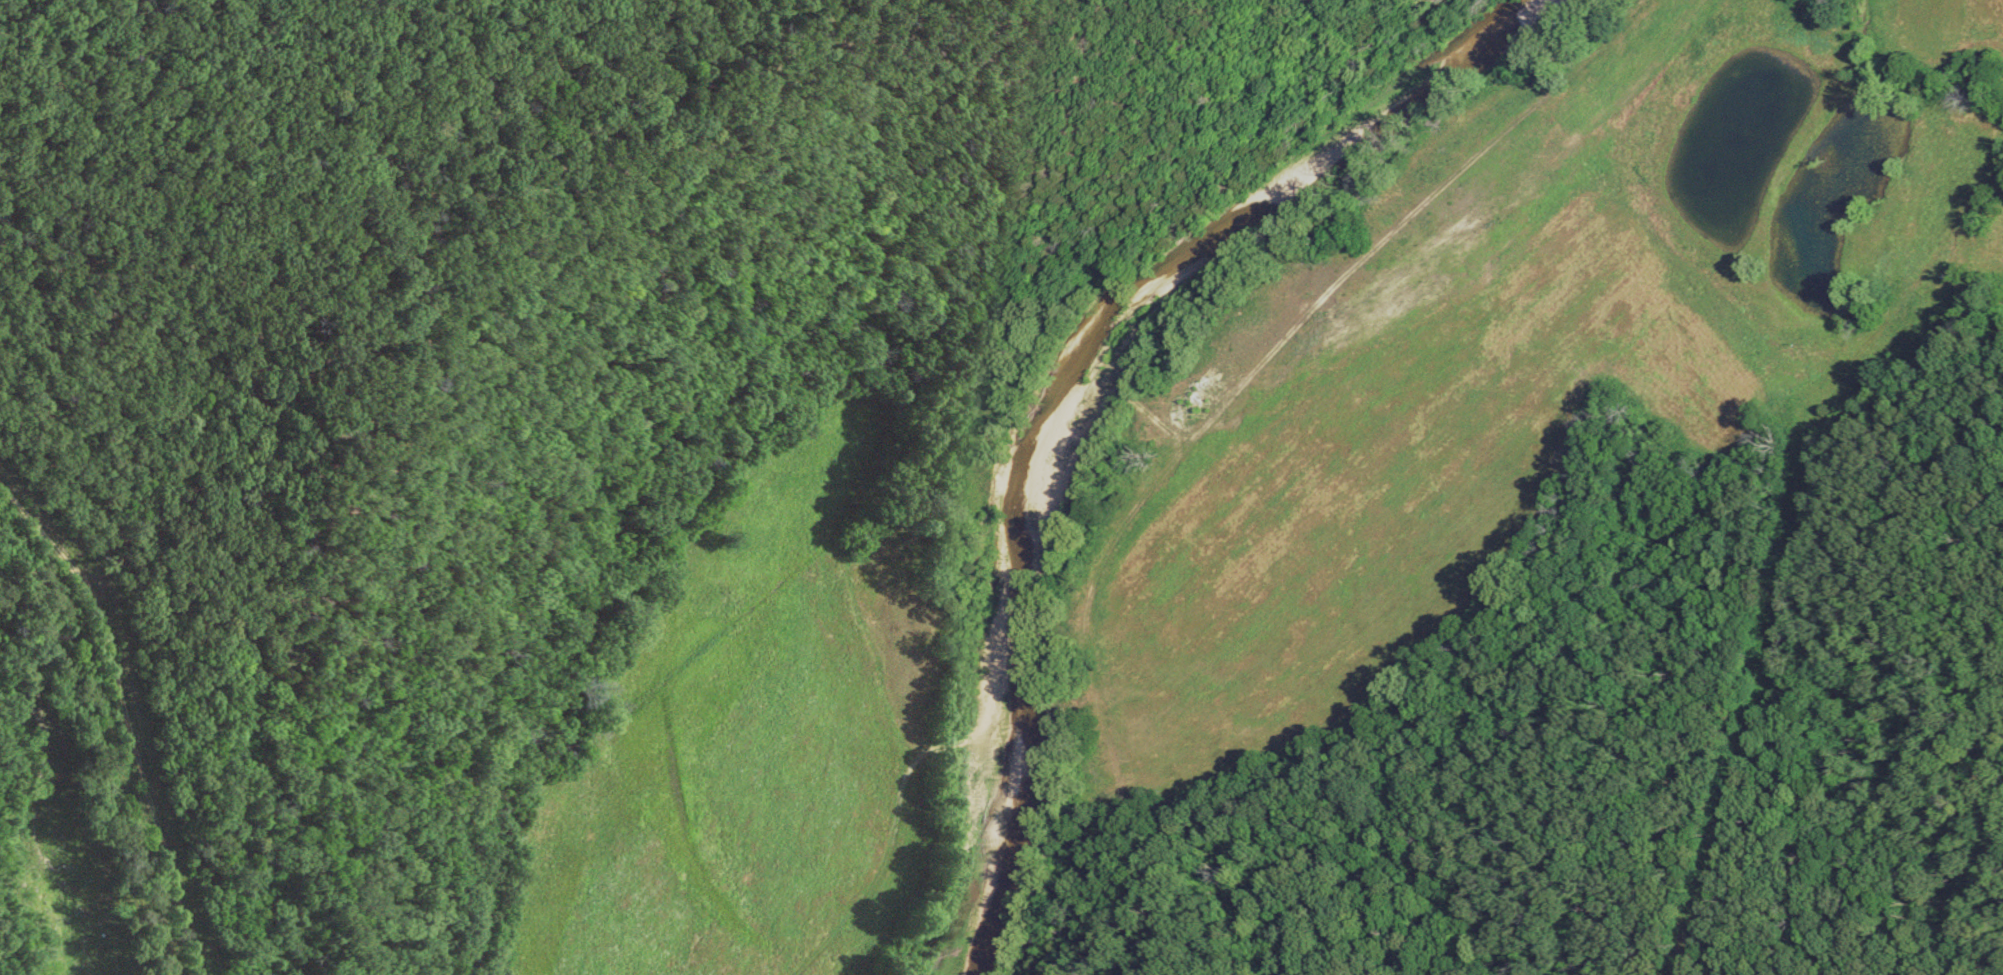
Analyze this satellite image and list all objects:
river: (1298, 206)
road: (130, 717)
road: (1020, 721)

